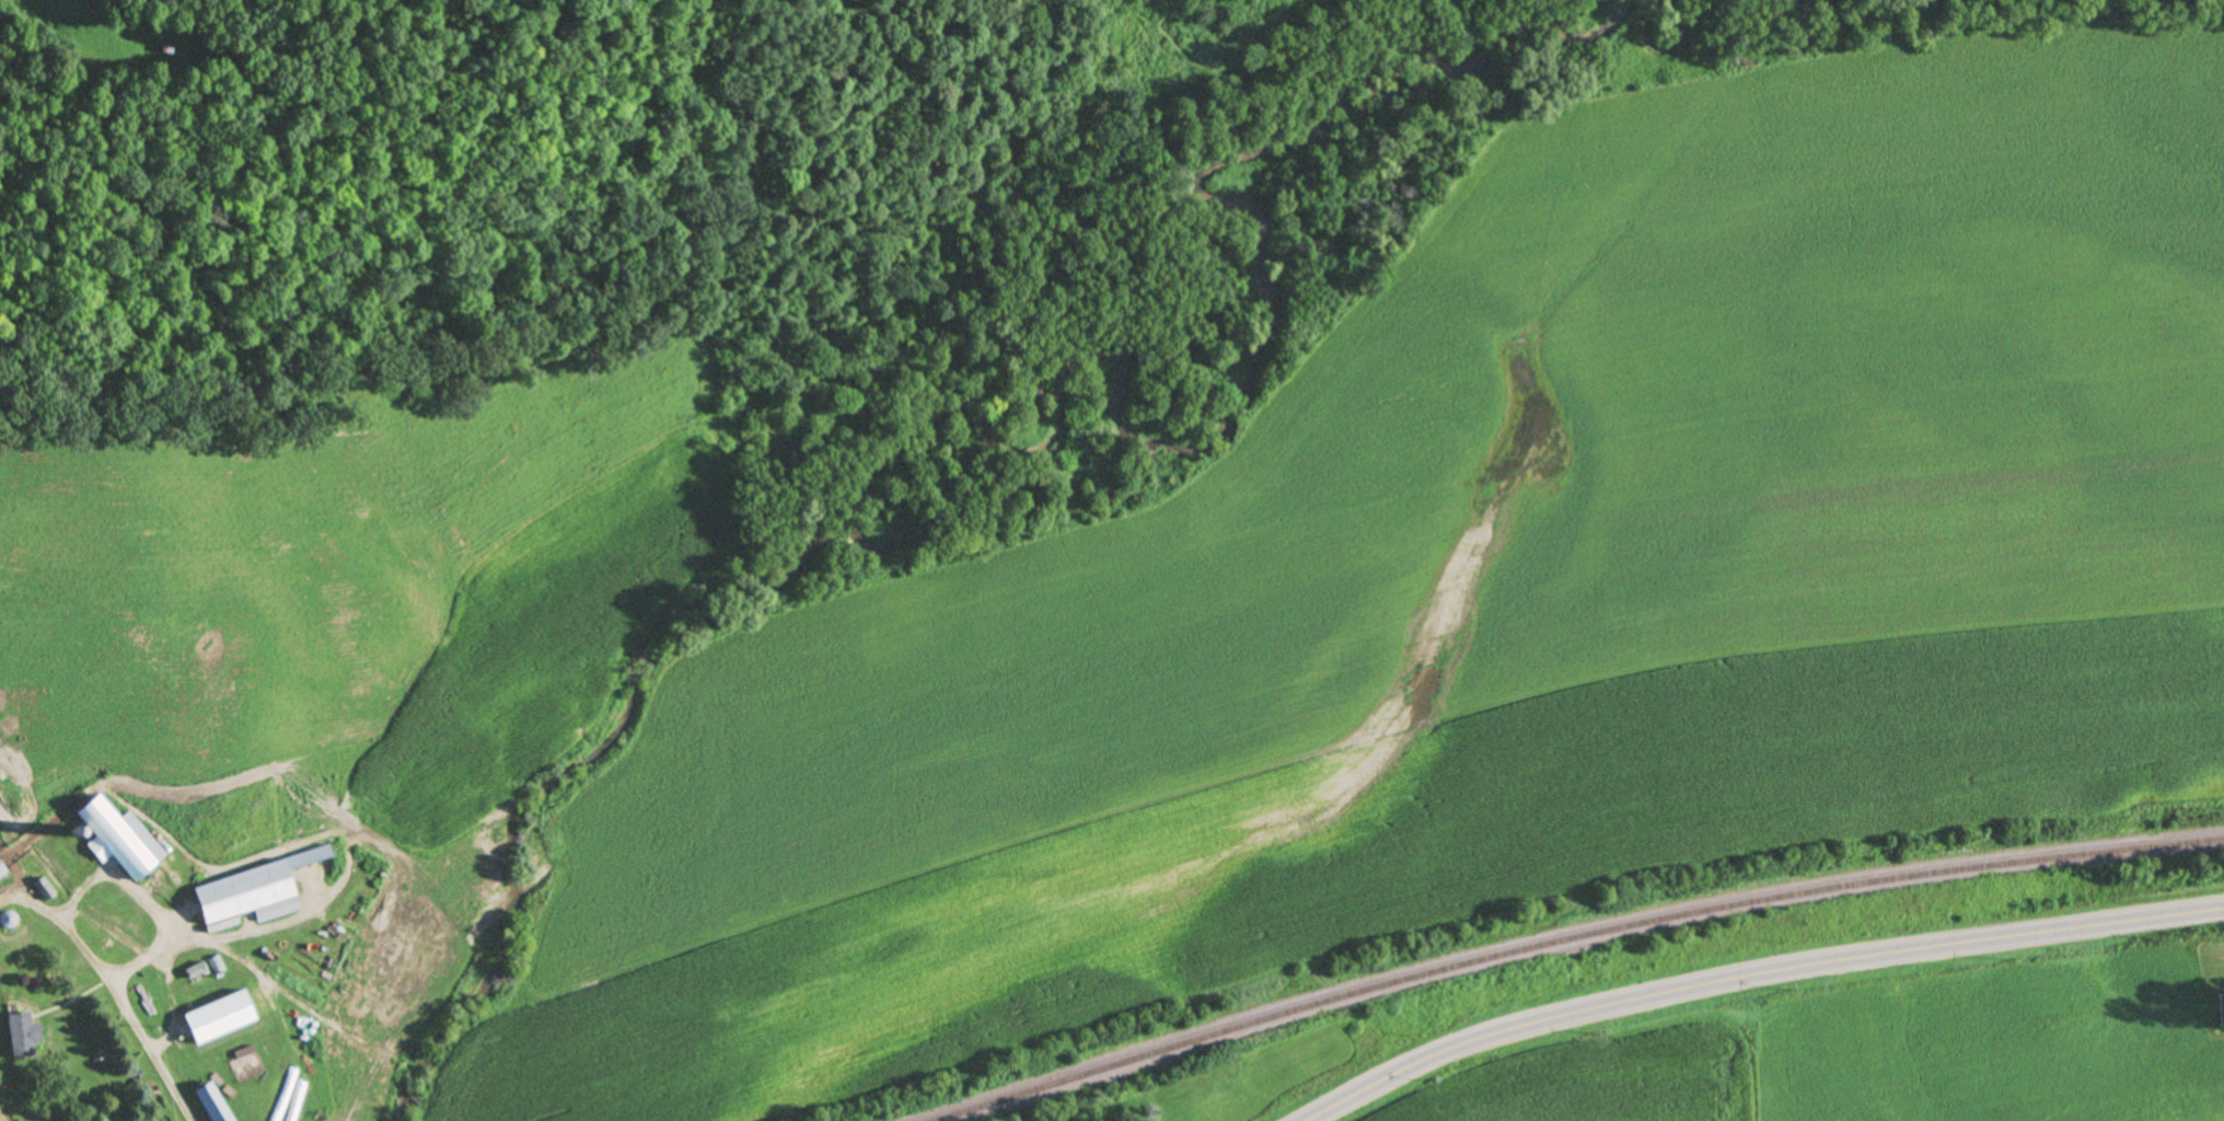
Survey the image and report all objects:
building: (119, 839)
building: (1, 871)
building: (43, 889)
building: (243, 891)
road: (150, 903)
road: (281, 922)
railway: (1569, 938)
road: (1754, 974)
road: (115, 986)
building: (218, 1016)
building: (18, 1037)
building: (303, 1085)
building: (317, 1097)
building: (211, 1103)

